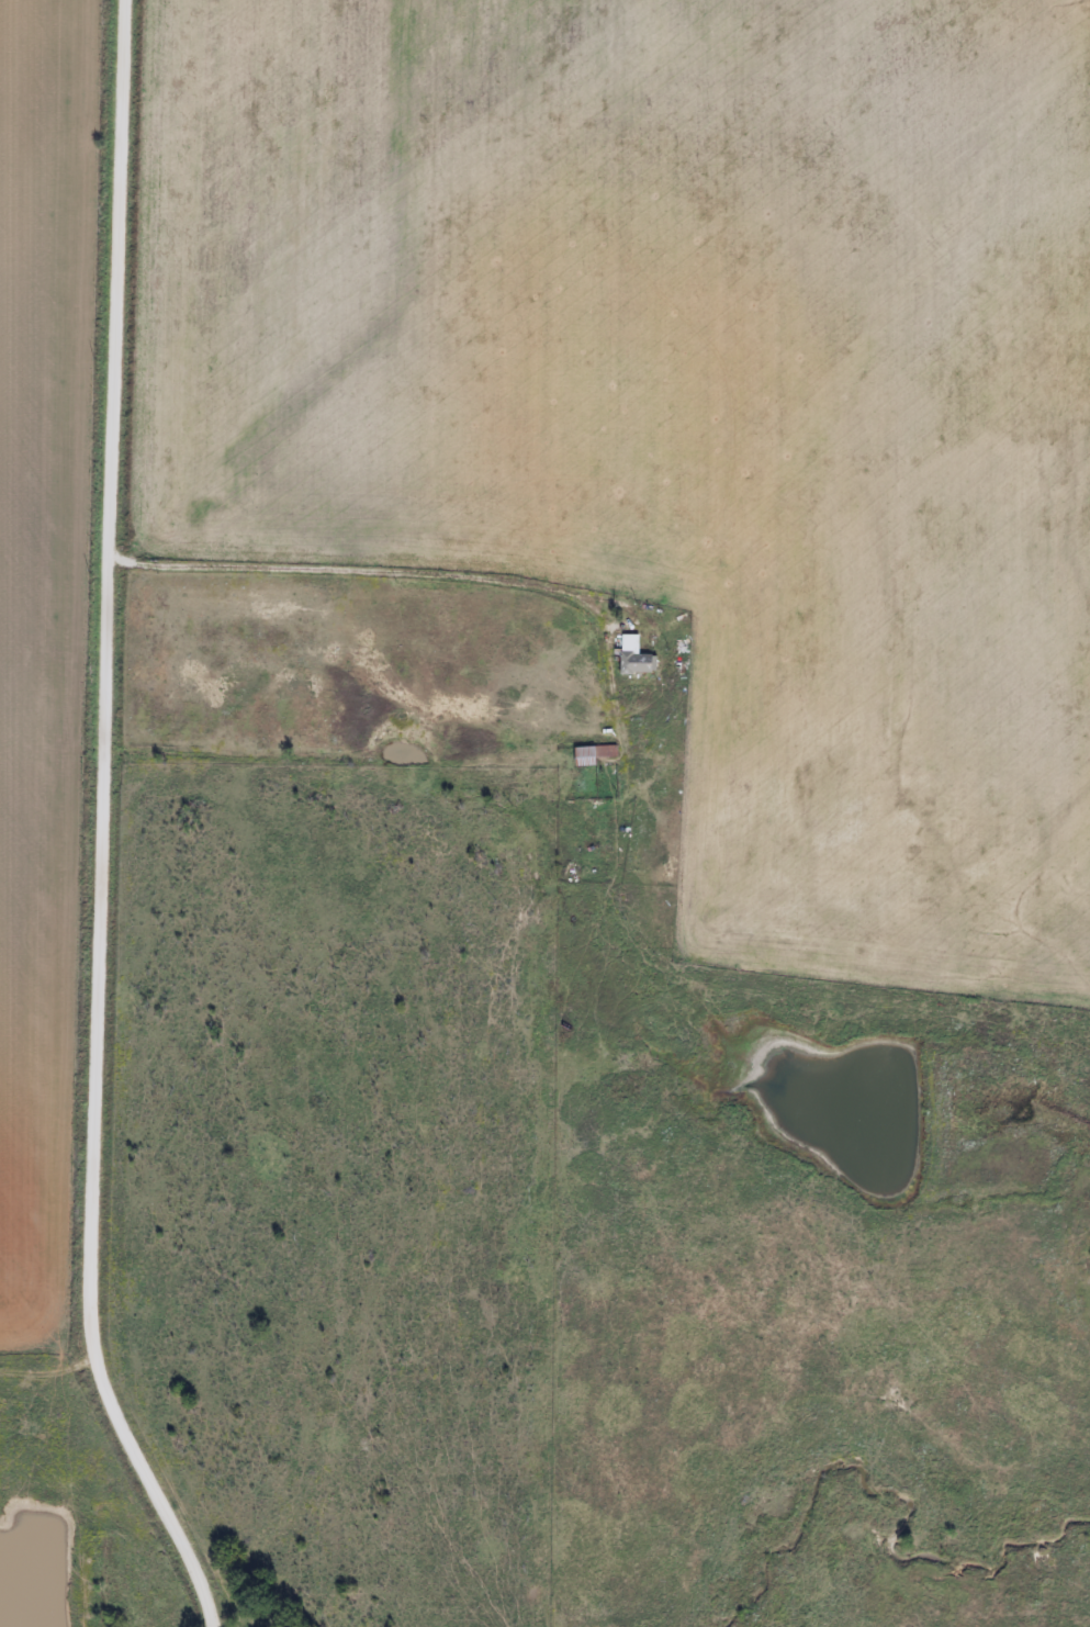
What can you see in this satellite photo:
road: (581, 636)
building: (632, 657)
building: (583, 756)
road: (109, 826)

